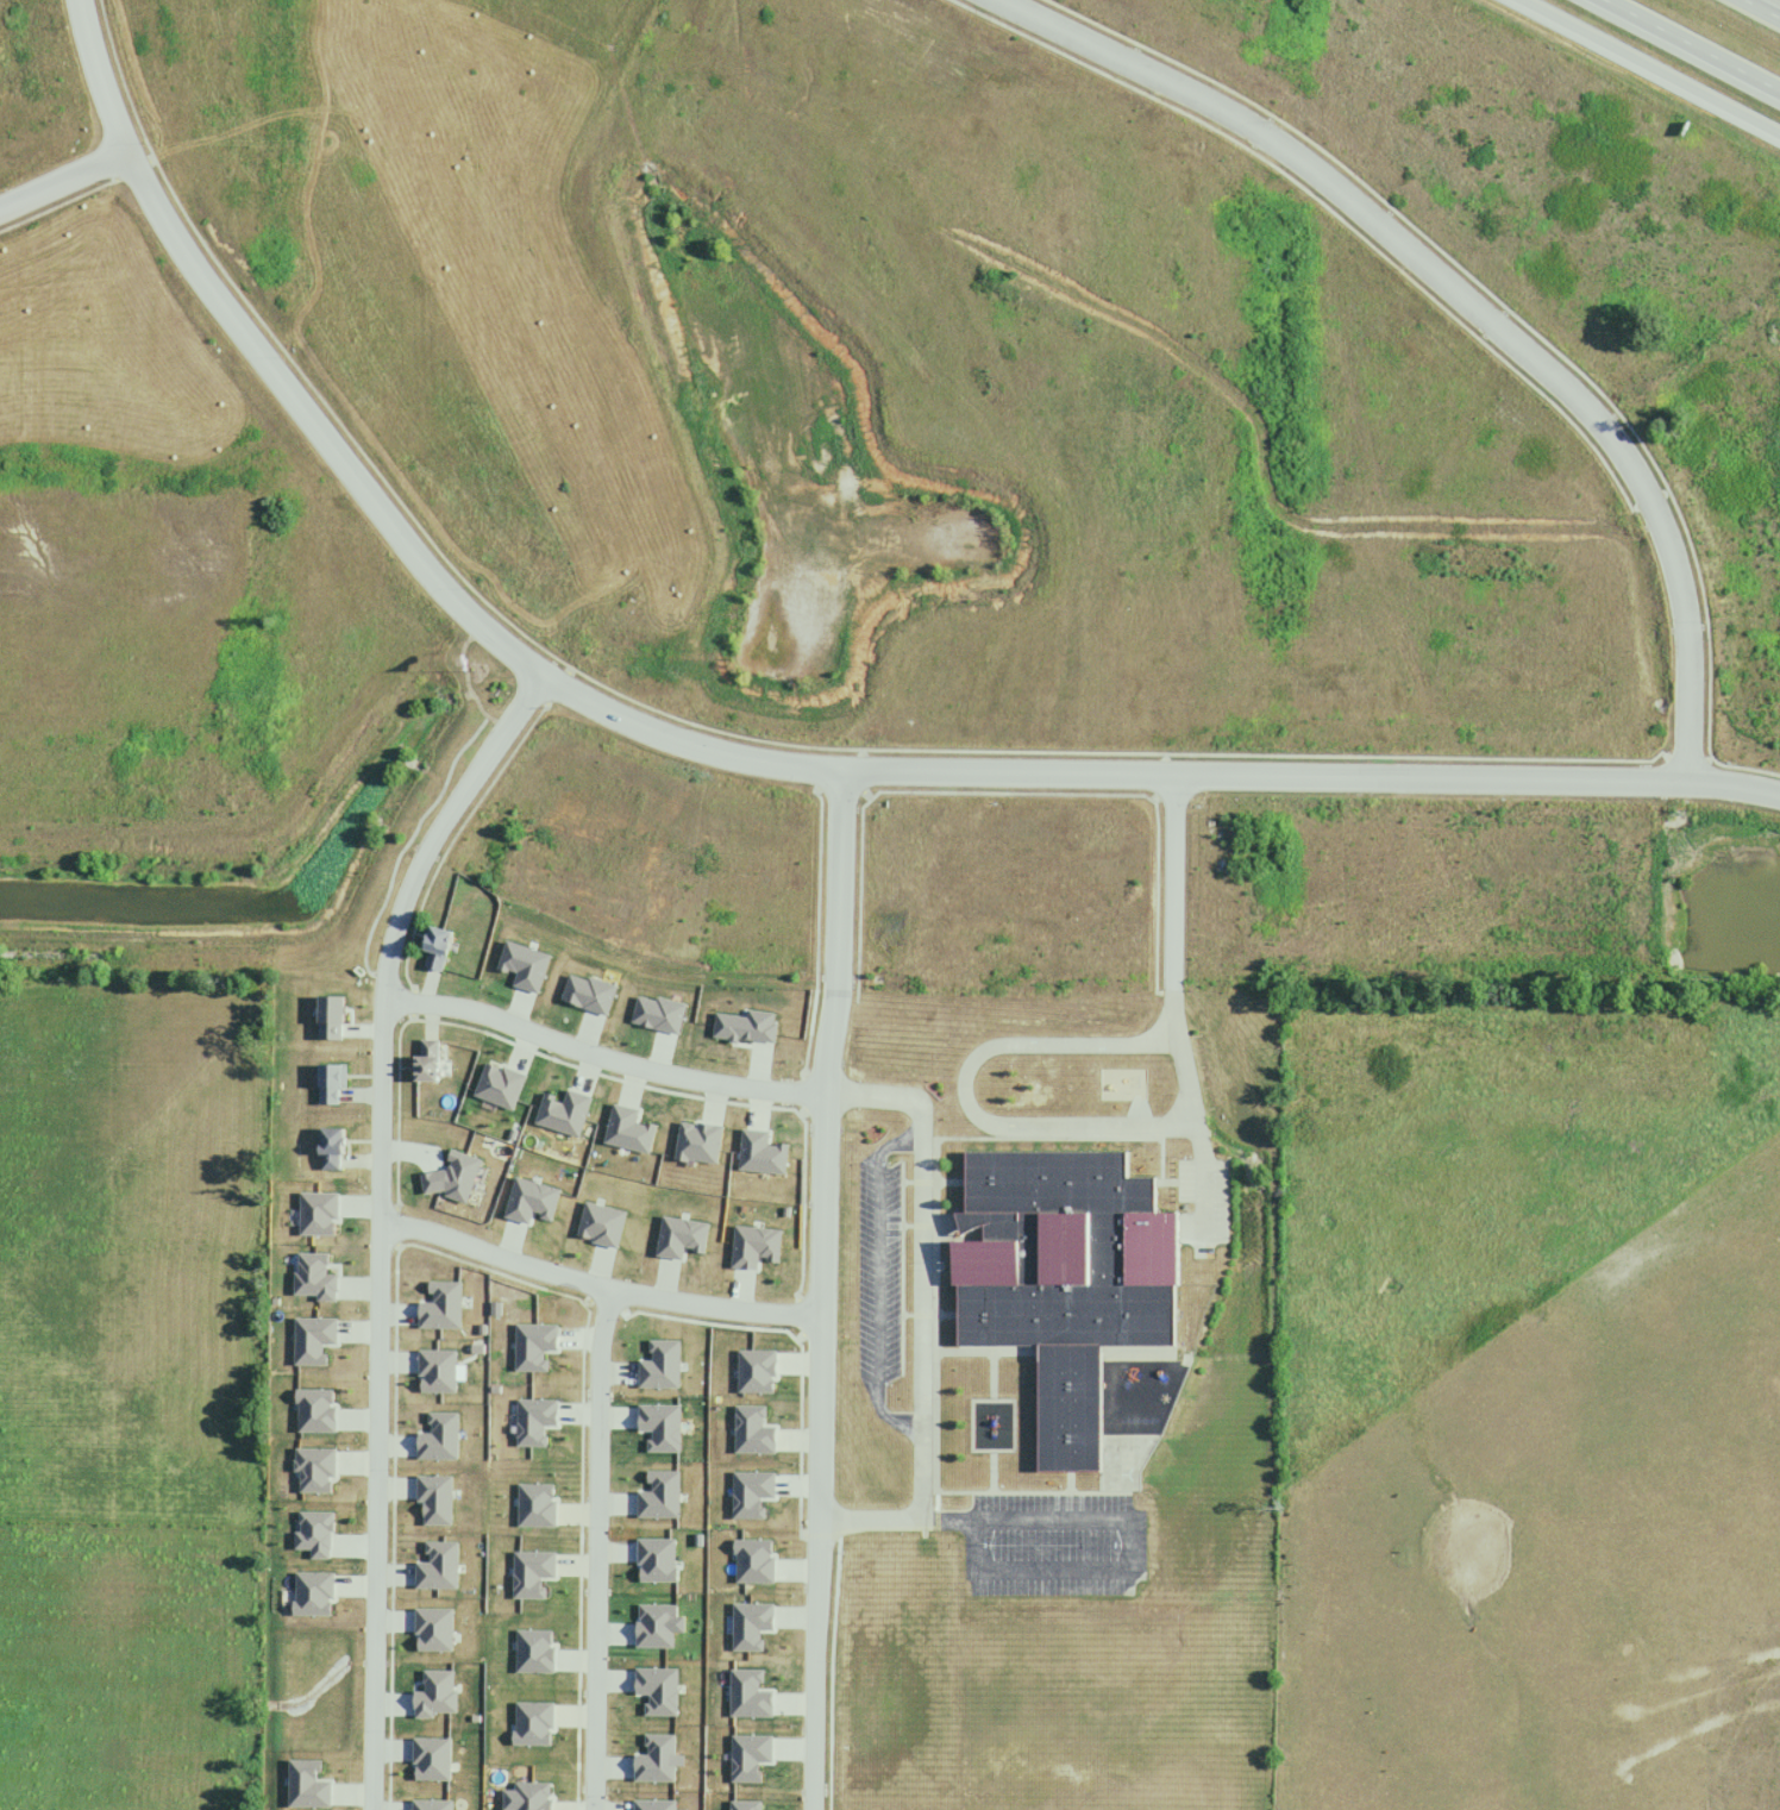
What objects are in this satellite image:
road: (1766, 6)
road: (1694, 44)
road: (1651, 65)
road: (67, 181)
road: (1467, 300)
road: (741, 754)
building: (434, 948)
road: (1180, 995)
building: (331, 1031)
road: (601, 1056)
building: (420, 1065)
building: (331, 1084)
building: (328, 1150)
road: (382, 1221)
parking lot: (876, 1265)
building: (1054, 1282)
road: (596, 1288)
road: (820, 1290)
road: (914, 1317)
road: (942, 1514)
parking lot: (1049, 1542)
road: (595, 1551)

